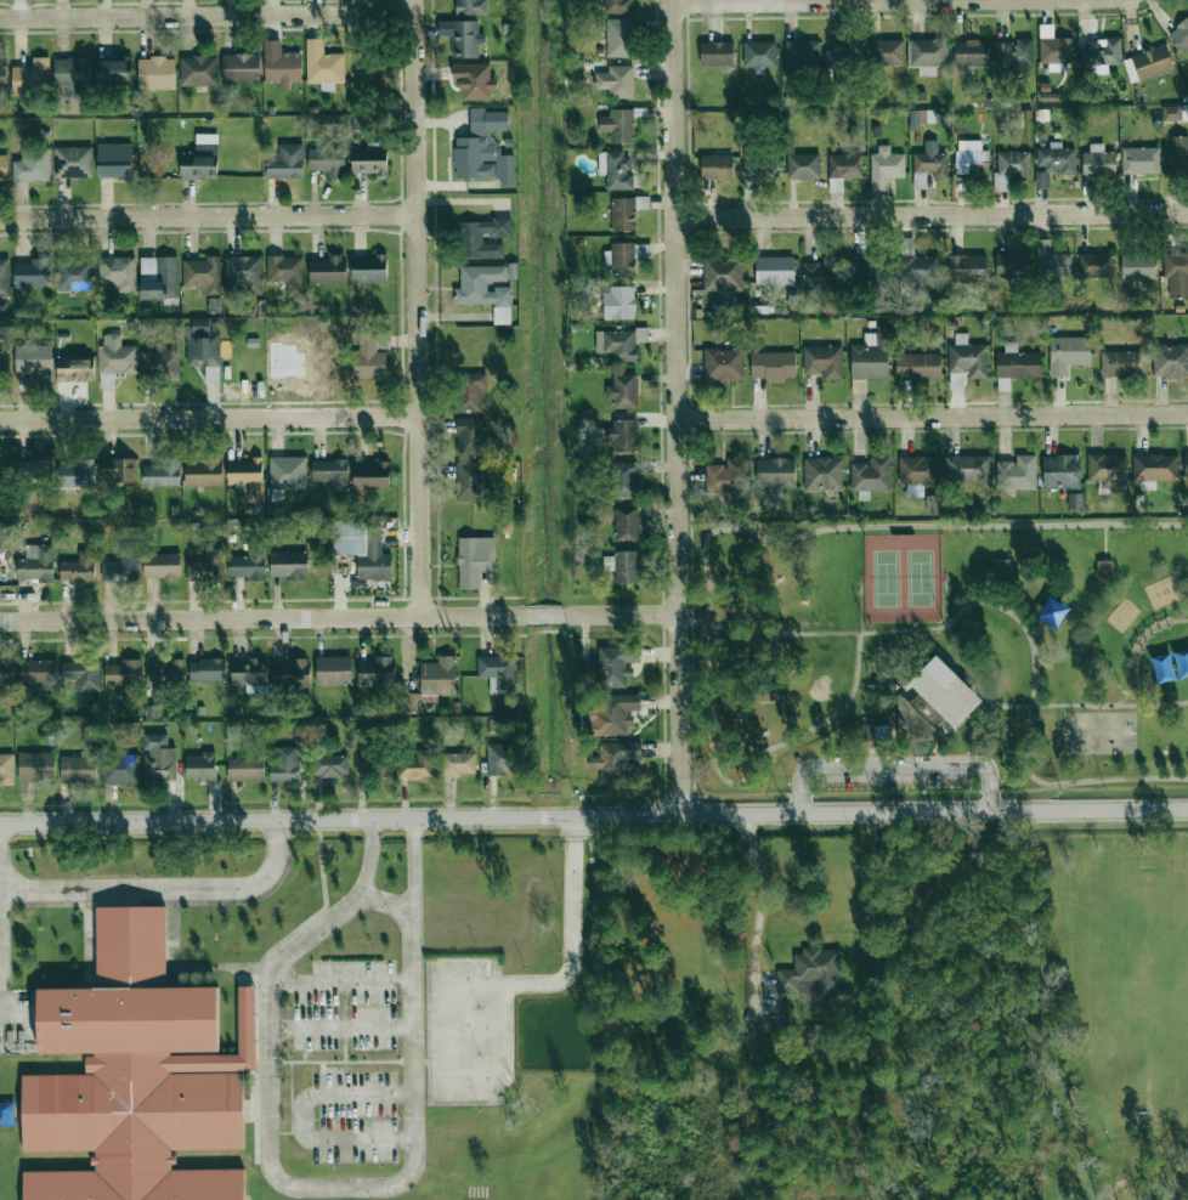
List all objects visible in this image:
road: (828, 1)
building: (617, 6)
building: (470, 7)
road: (207, 16)
building: (1181, 35)
building: (618, 38)
building: (464, 39)
building: (1053, 49)
building: (1104, 51)
building: (889, 52)
building: (971, 52)
building: (1013, 52)
building: (717, 53)
building: (759, 55)
building: (802, 55)
building: (844, 55)
building: (927, 55)
building: (323, 63)
building: (1148, 63)
building: (1, 67)
building: (283, 67)
building: (239, 68)
building: (198, 70)
building: (114, 72)
building: (157, 73)
building: (32, 77)
building: (72, 78)
building: (617, 81)
building: (1171, 113)
building: (917, 117)
building: (618, 125)
building: (483, 148)
building: (968, 154)
building: (1177, 154)
building: (200, 159)
building: (1058, 159)
building: (114, 160)
building: (1098, 160)
building: (1141, 160)
building: (73, 162)
building: (285, 162)
building: (327, 162)
building: (369, 162)
building: (760, 163)
building: (1013, 163)
building: (929, 164)
building: (33, 165)
building: (803, 166)
building: (845, 166)
building: (4, 168)
building: (717, 168)
building: (884, 169)
building: (615, 170)
building: (622, 214)
road: (930, 215)
road: (208, 219)
building: (471, 239)
building: (621, 257)
building: (1051, 261)
building: (1011, 265)
building: (1094, 265)
building: (1137, 266)
building: (917, 267)
building: (369, 268)
building: (869, 268)
building: (967, 268)
building: (327, 270)
building: (774, 271)
building: (118, 272)
building: (824, 272)
building: (32, 273)
building: (287, 273)
building: (1176, 273)
building: (74, 274)
building: (202, 274)
building: (723, 274)
building: (243, 276)
building: (4, 278)
building: (159, 278)
building: (486, 290)
building: (618, 304)
road: (415, 309)
building: (617, 344)
building: (204, 347)
building: (1068, 353)
building: (871, 356)
building: (369, 357)
building: (968, 357)
building: (115, 360)
building: (1170, 360)
building: (34, 361)
building: (824, 361)
building: (1017, 363)
building: (1124, 363)
building: (4, 364)
building: (723, 364)
building: (159, 366)
building: (773, 366)
building: (918, 366)
building: (74, 369)
building: (470, 391)
building: (623, 391)
road: (673, 408)
road: (930, 415)
road: (209, 419)
building: (623, 435)
building: (473, 437)
building: (1186, 465)
building: (1155, 466)
building: (967, 468)
building: (118, 470)
building: (2, 471)
building: (34, 471)
building: (203, 471)
building: (1062, 471)
building: (1108, 471)
building: (77, 472)
building: (163, 472)
building: (287, 472)
building: (775, 472)
building: (917, 472)
building: (1017, 472)
building: (332, 474)
building: (822, 474)
building: (871, 475)
building: (372, 476)
building: (726, 476)
building: (247, 477)
building: (626, 479)
building: (470, 481)
building: (1075, 502)
building: (626, 523)
road: (1105, 543)
building: (362, 548)
road: (703, 554)
building: (475, 560)
building: (36, 564)
building: (289, 565)
building: (121, 566)
building: (162, 566)
building: (207, 566)
building: (247, 566)
building: (623, 566)
building: (1002, 567)
building: (78, 568)
building: (1104, 568)
park: (901, 578)
road: (1002, 593)
road: (338, 617)
road: (1136, 649)
road: (939, 650)
park: (943, 655)
building: (616, 664)
road: (1161, 669)
building: (168, 670)
building: (207, 670)
building: (333, 670)
building: (6, 672)
building: (375, 672)
building: (38, 673)
building: (124, 673)
building: (498, 673)
building: (83, 674)
building: (250, 674)
building: (292, 674)
building: (439, 677)
building: (766, 692)
building: (414, 701)
building: (935, 702)
building: (615, 714)
road: (1029, 714)
building: (875, 732)
park: (1098, 734)
building: (158, 758)
building: (500, 759)
building: (616, 760)
building: (458, 764)
building: (284, 765)
building: (329, 765)
building: (417, 765)
building: (36, 766)
building: (200, 766)
building: (373, 766)
road: (895, 768)
building: (6, 769)
building: (78, 769)
building: (120, 769)
building: (245, 770)
road: (594, 816)
road: (162, 888)
building: (917, 889)
road: (387, 905)
road: (760, 909)
building: (810, 974)
road: (341, 983)
road: (470, 984)
road: (344, 1021)
road: (341, 1029)
road: (343, 1063)
building: (136, 1076)
road: (292, 1097)
road: (301, 1117)
road: (287, 1132)
road: (321, 1188)

